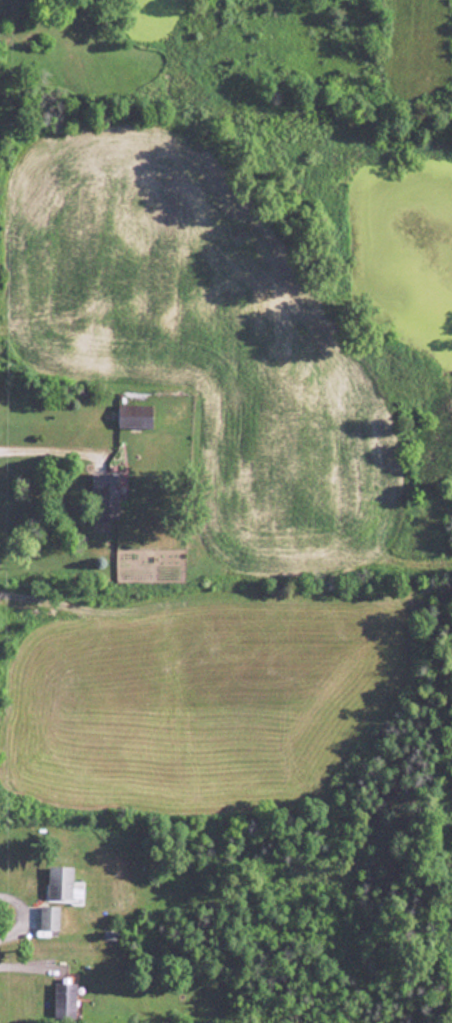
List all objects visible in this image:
crop: (204, 341)
building: (135, 416)
building: (107, 496)
crop: (202, 700)
building: (63, 884)
building: (51, 920)
building: (66, 1001)

